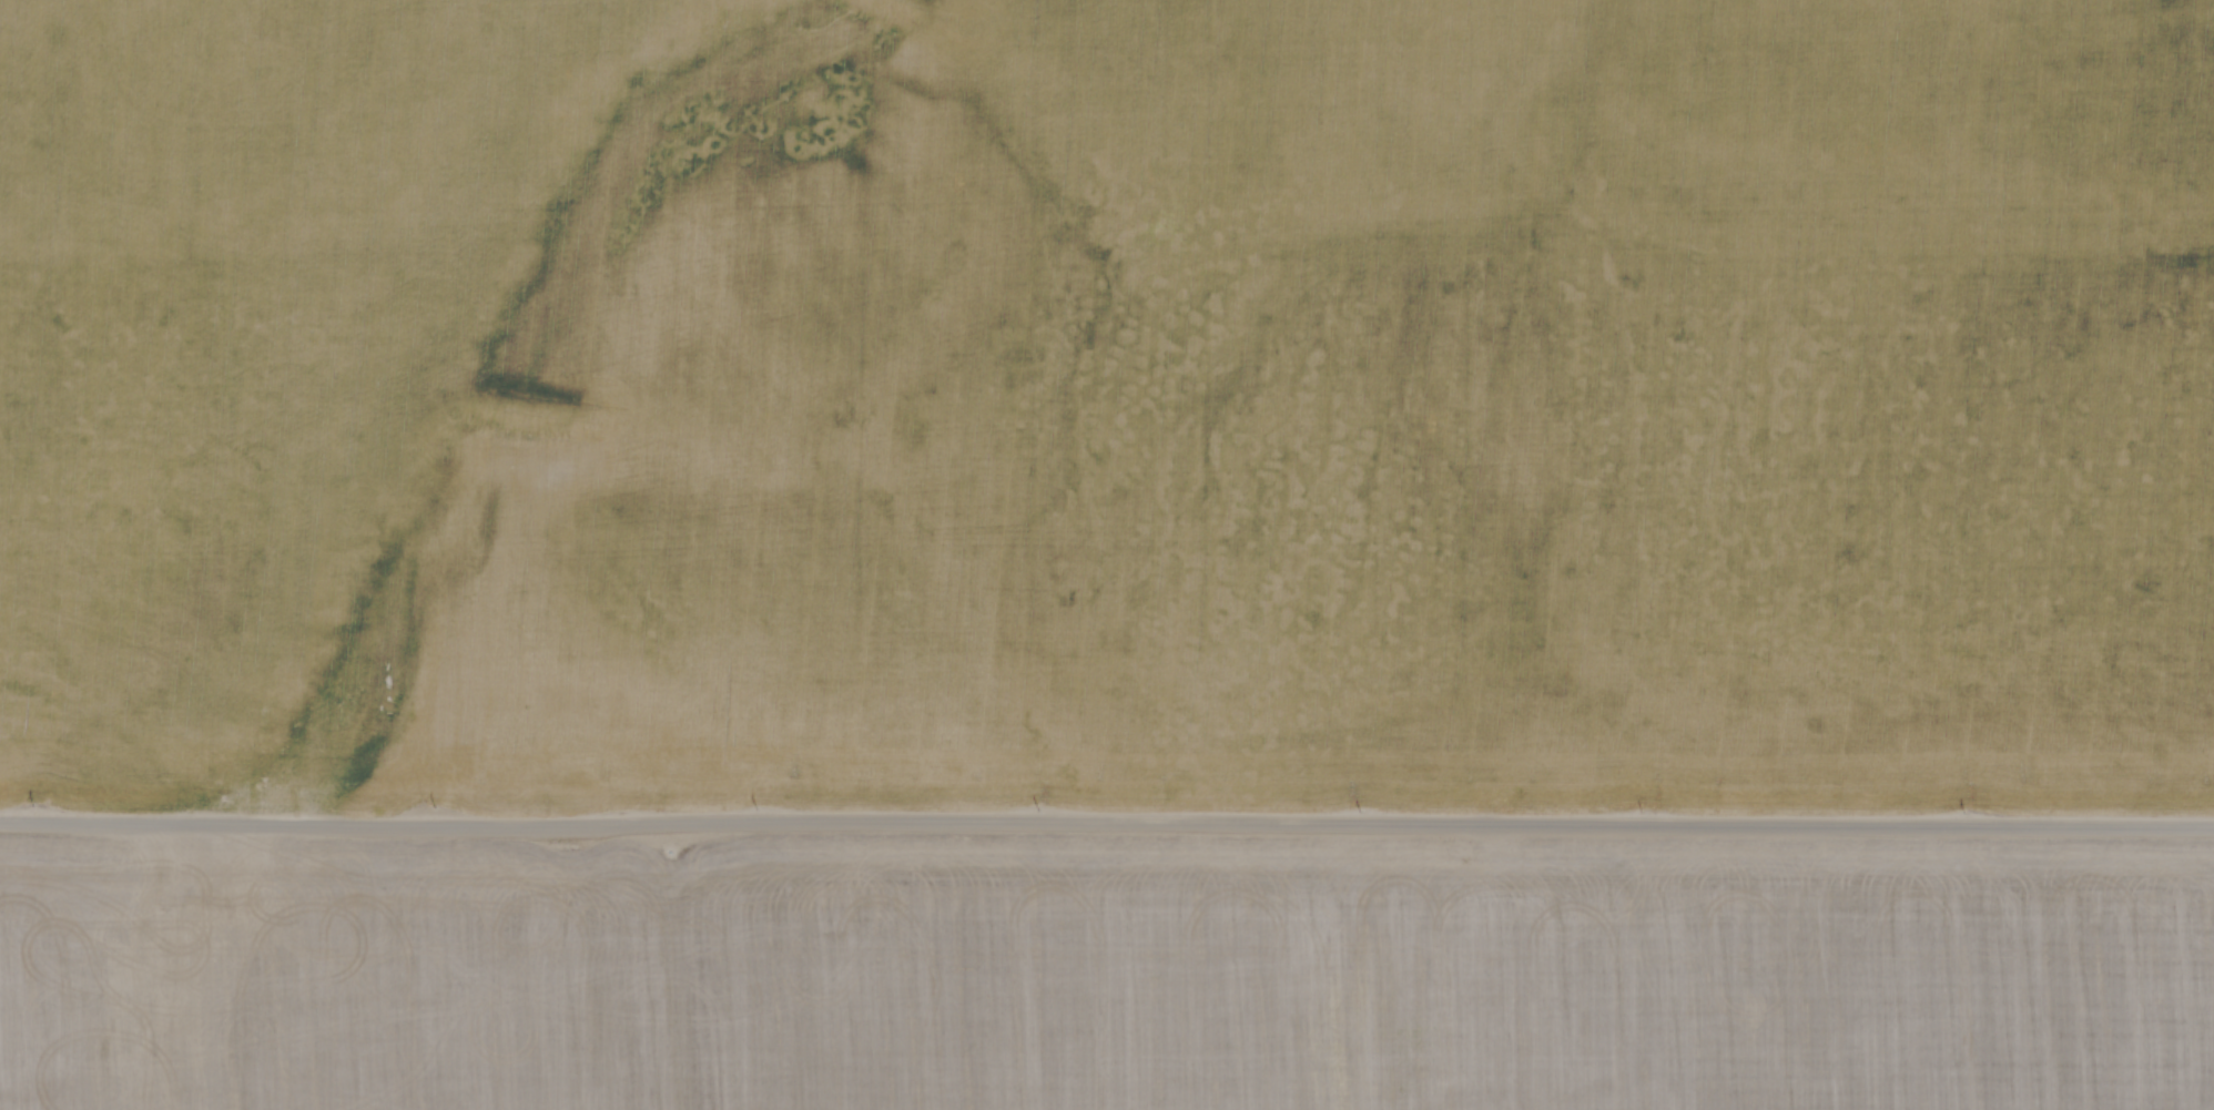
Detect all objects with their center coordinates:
road: (1106, 814)

